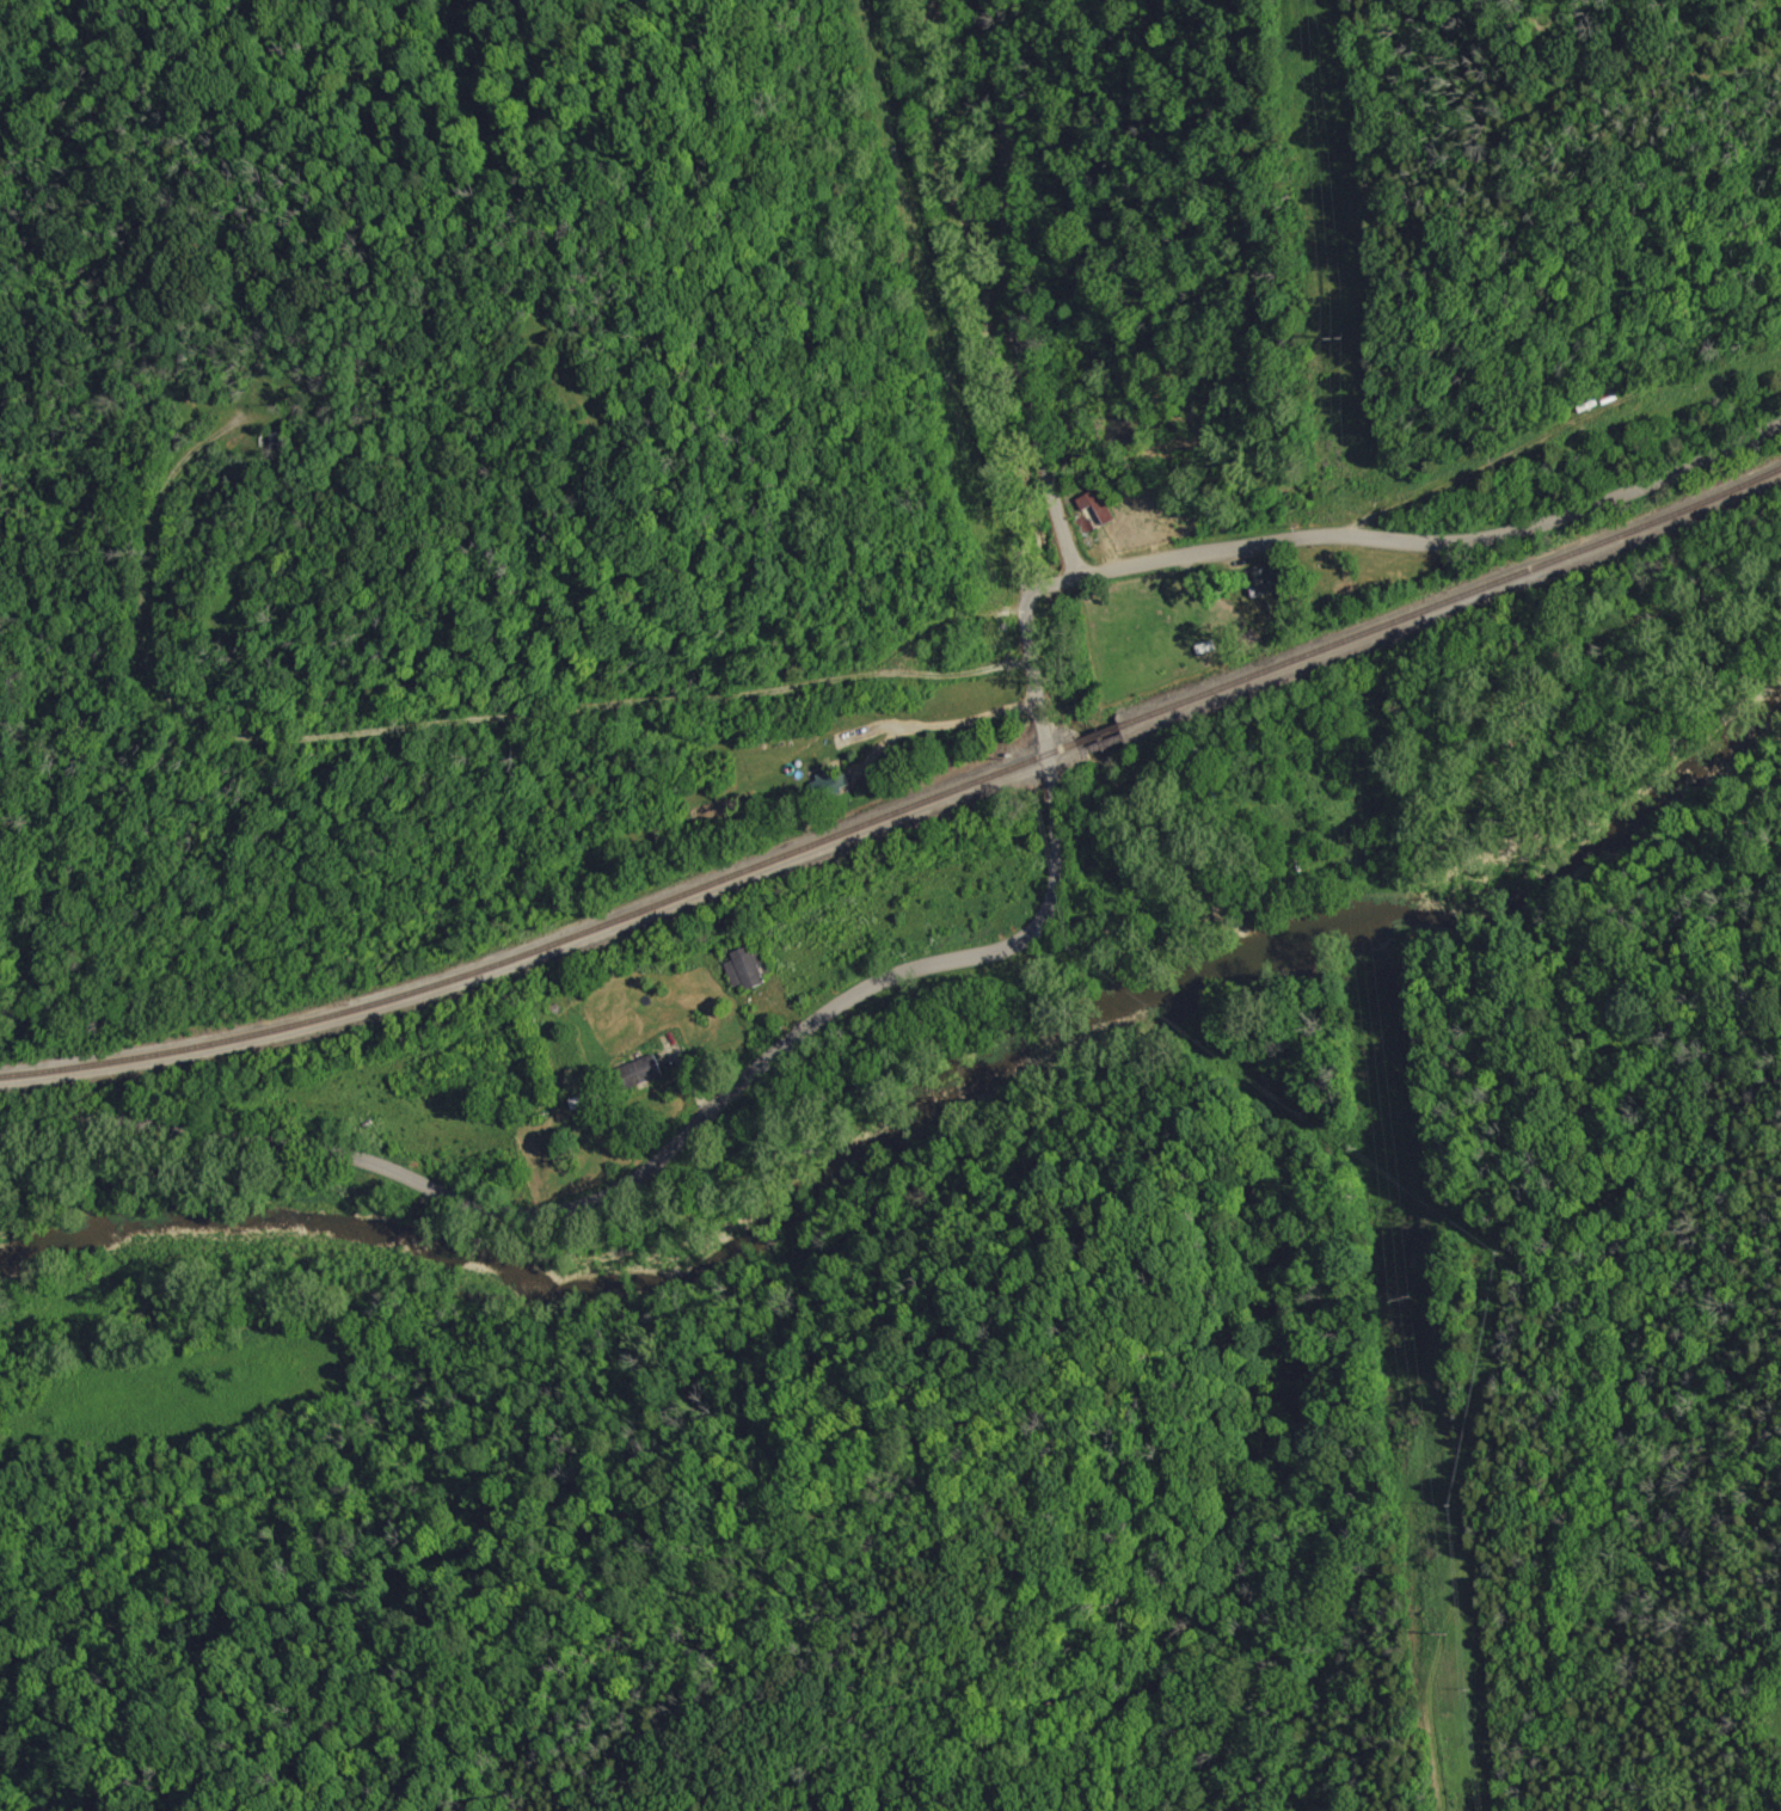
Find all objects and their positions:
road: (1011, 289)
power tower: (1333, 334)
building: (1095, 508)
building: (1271, 581)
road: (940, 724)
building: (827, 784)
railway: (903, 810)
road: (1026, 929)
building: (744, 968)
building: (641, 1070)
power tower: (1404, 1296)
power tower: (1443, 1629)

